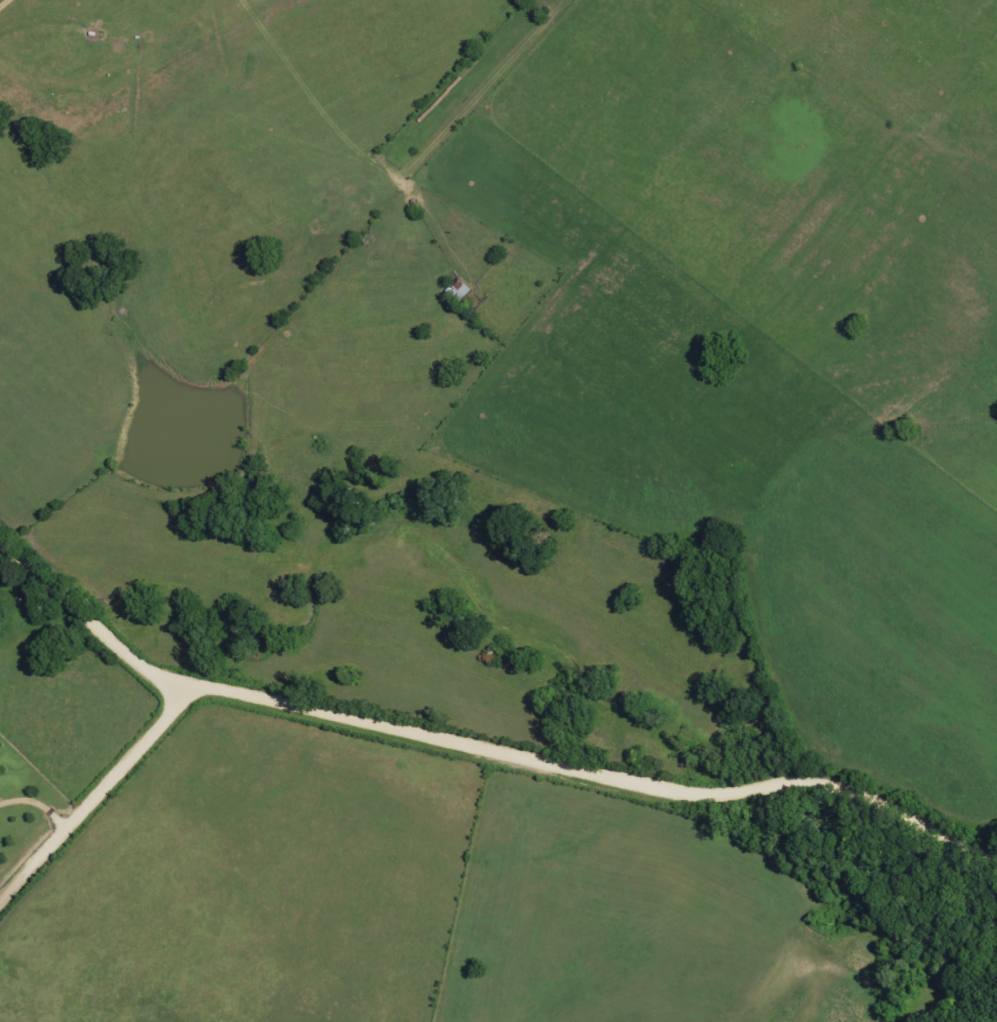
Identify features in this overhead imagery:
road: (88, 621)
road: (598, 776)
road: (97, 794)
road: (35, 805)

